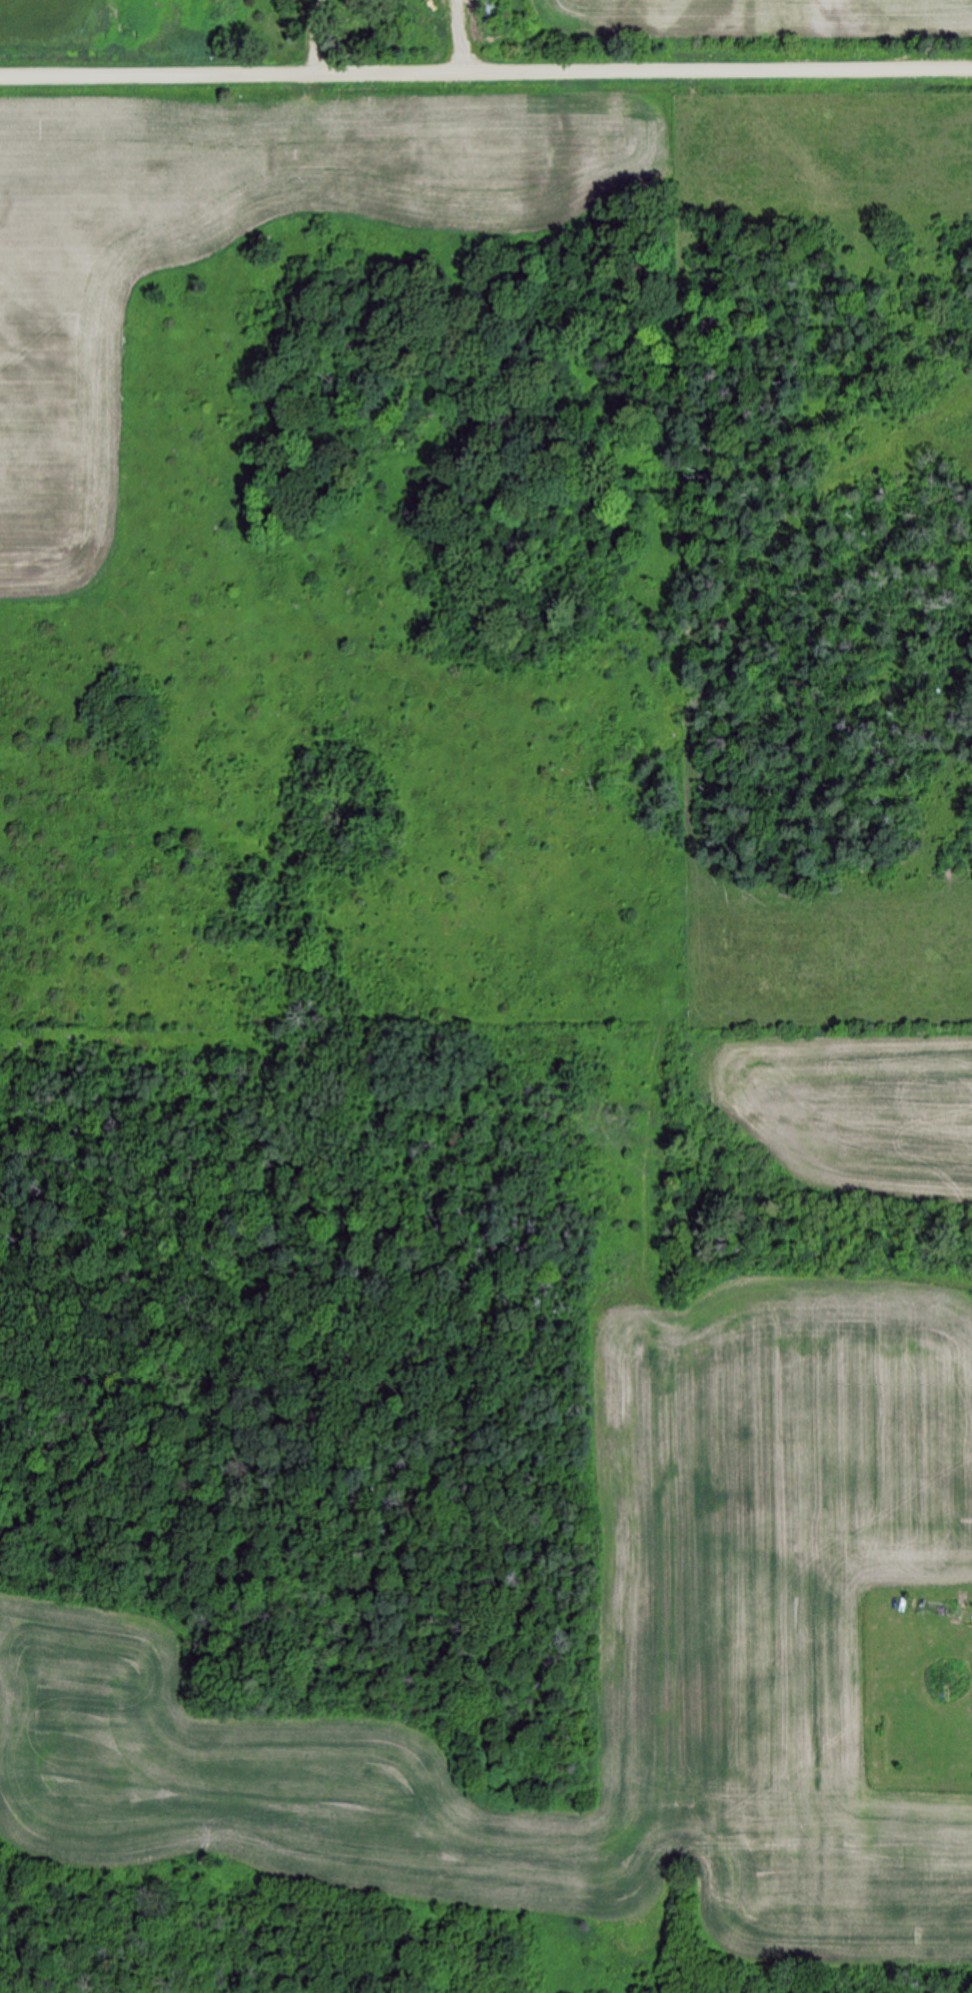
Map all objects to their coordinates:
building: (492, 31)
road: (486, 71)

